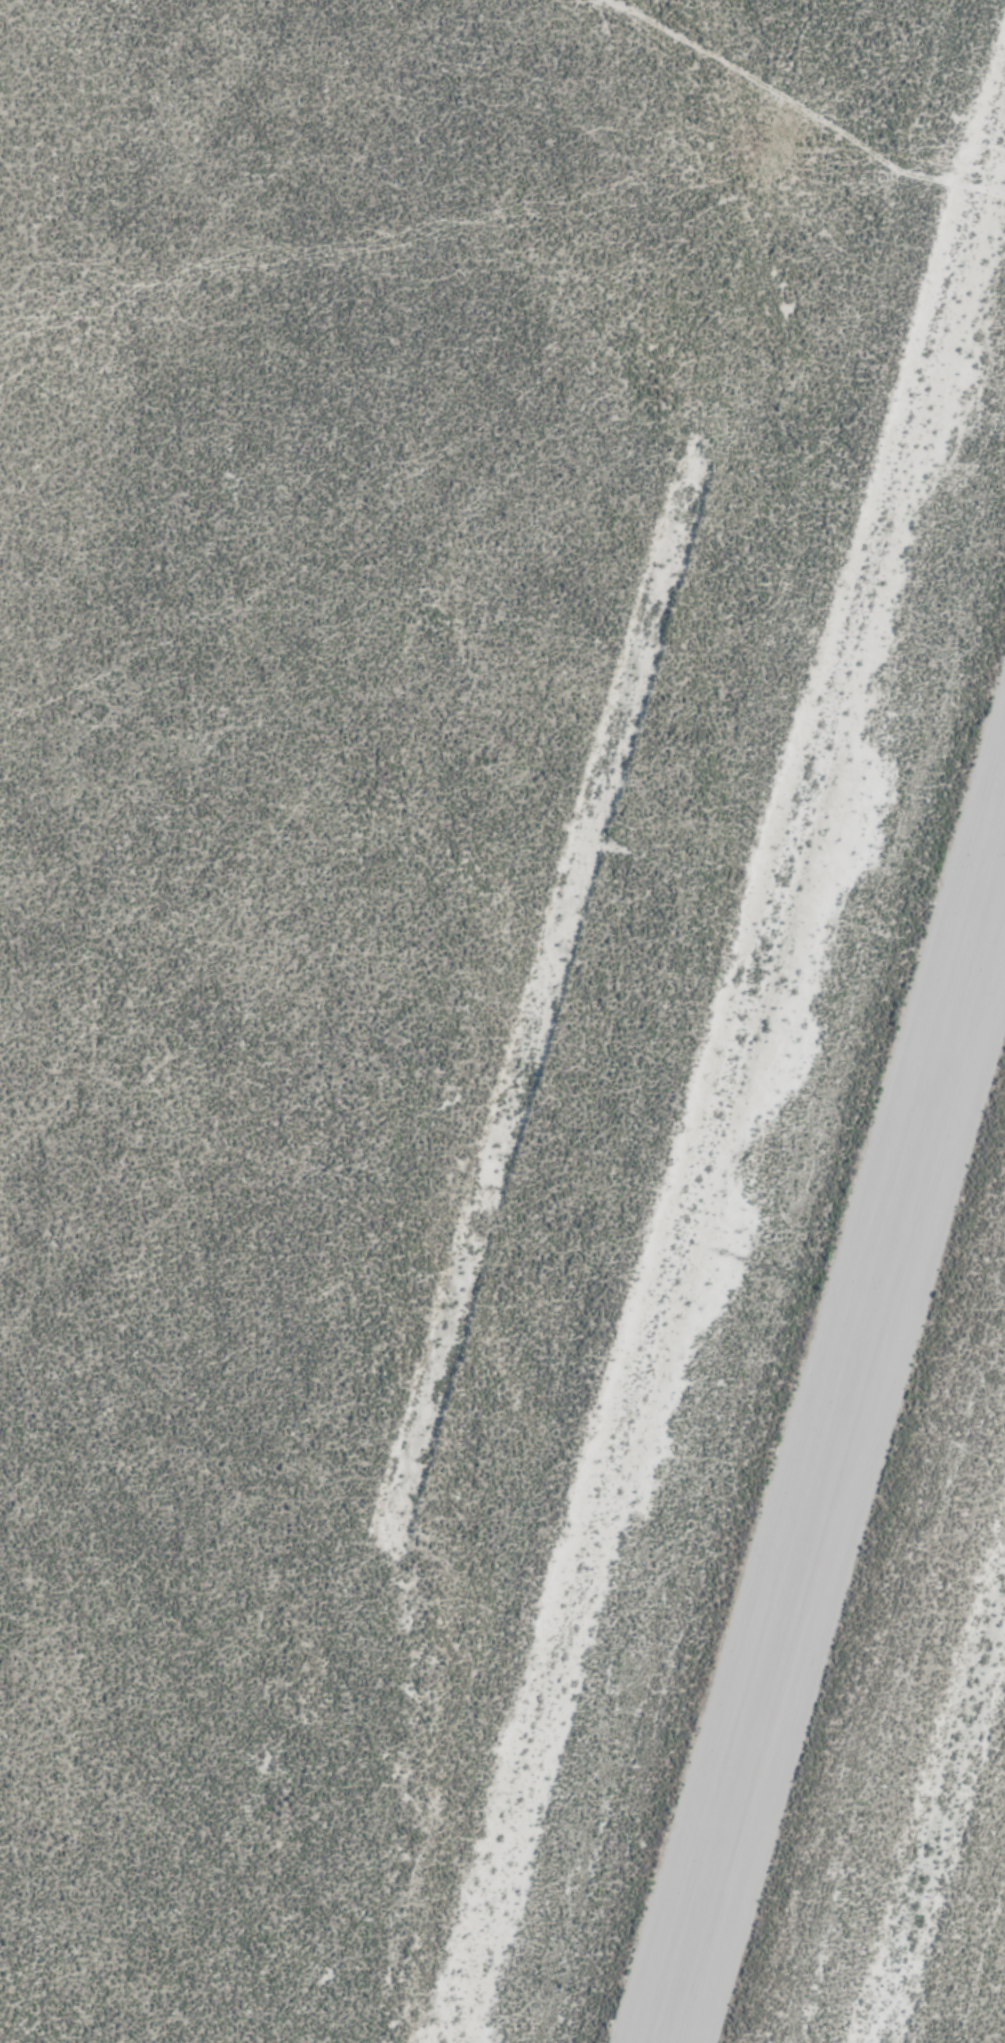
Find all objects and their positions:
road: (805, 108)
airport runway: (836, 1447)

